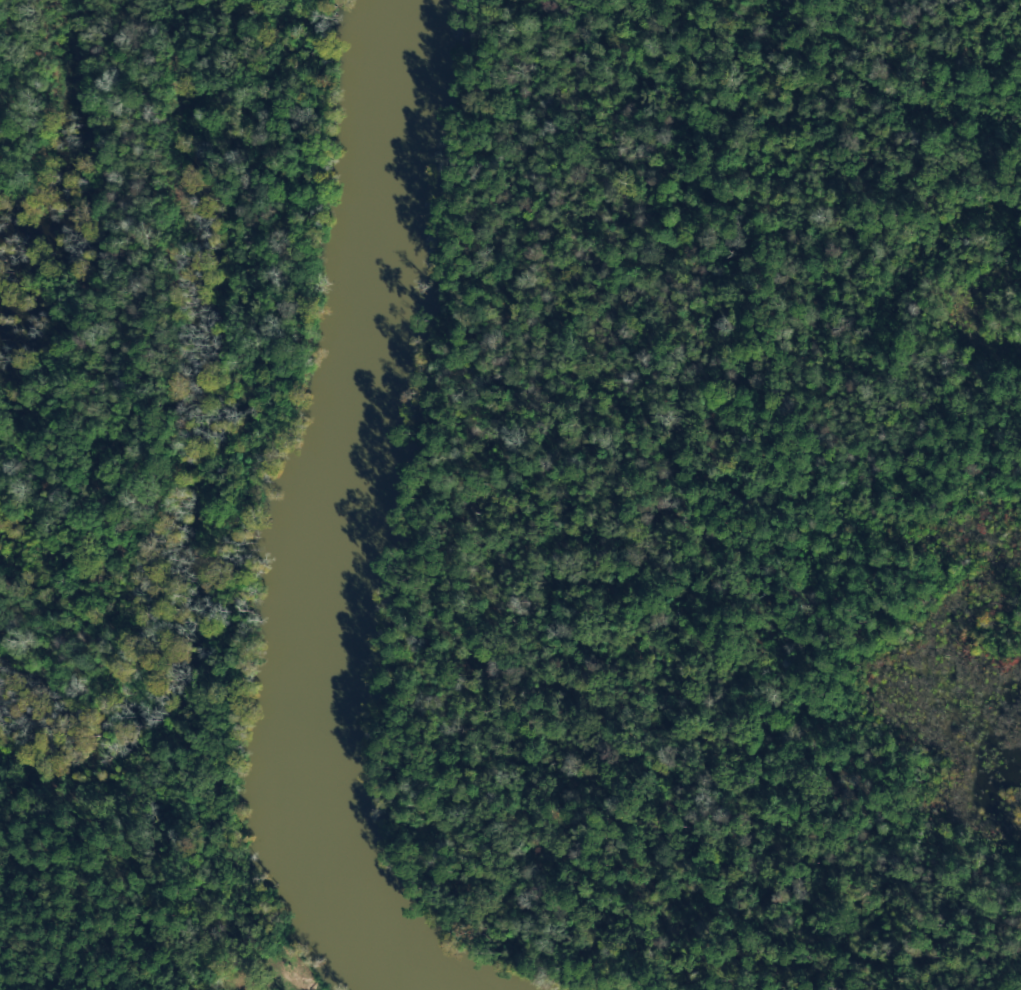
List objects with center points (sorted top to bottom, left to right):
river: (332, 523)

